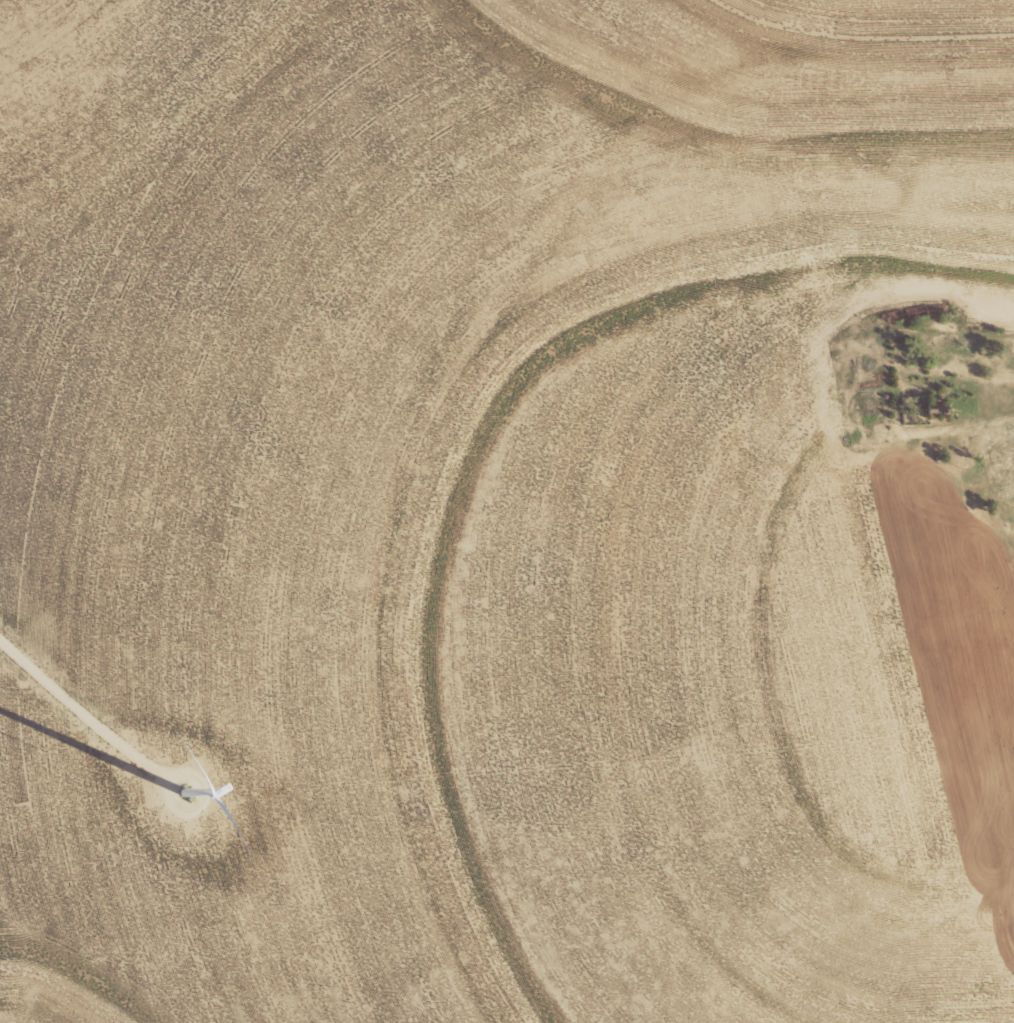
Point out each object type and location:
road: (74, 704)
wind turbine: (195, 802)

